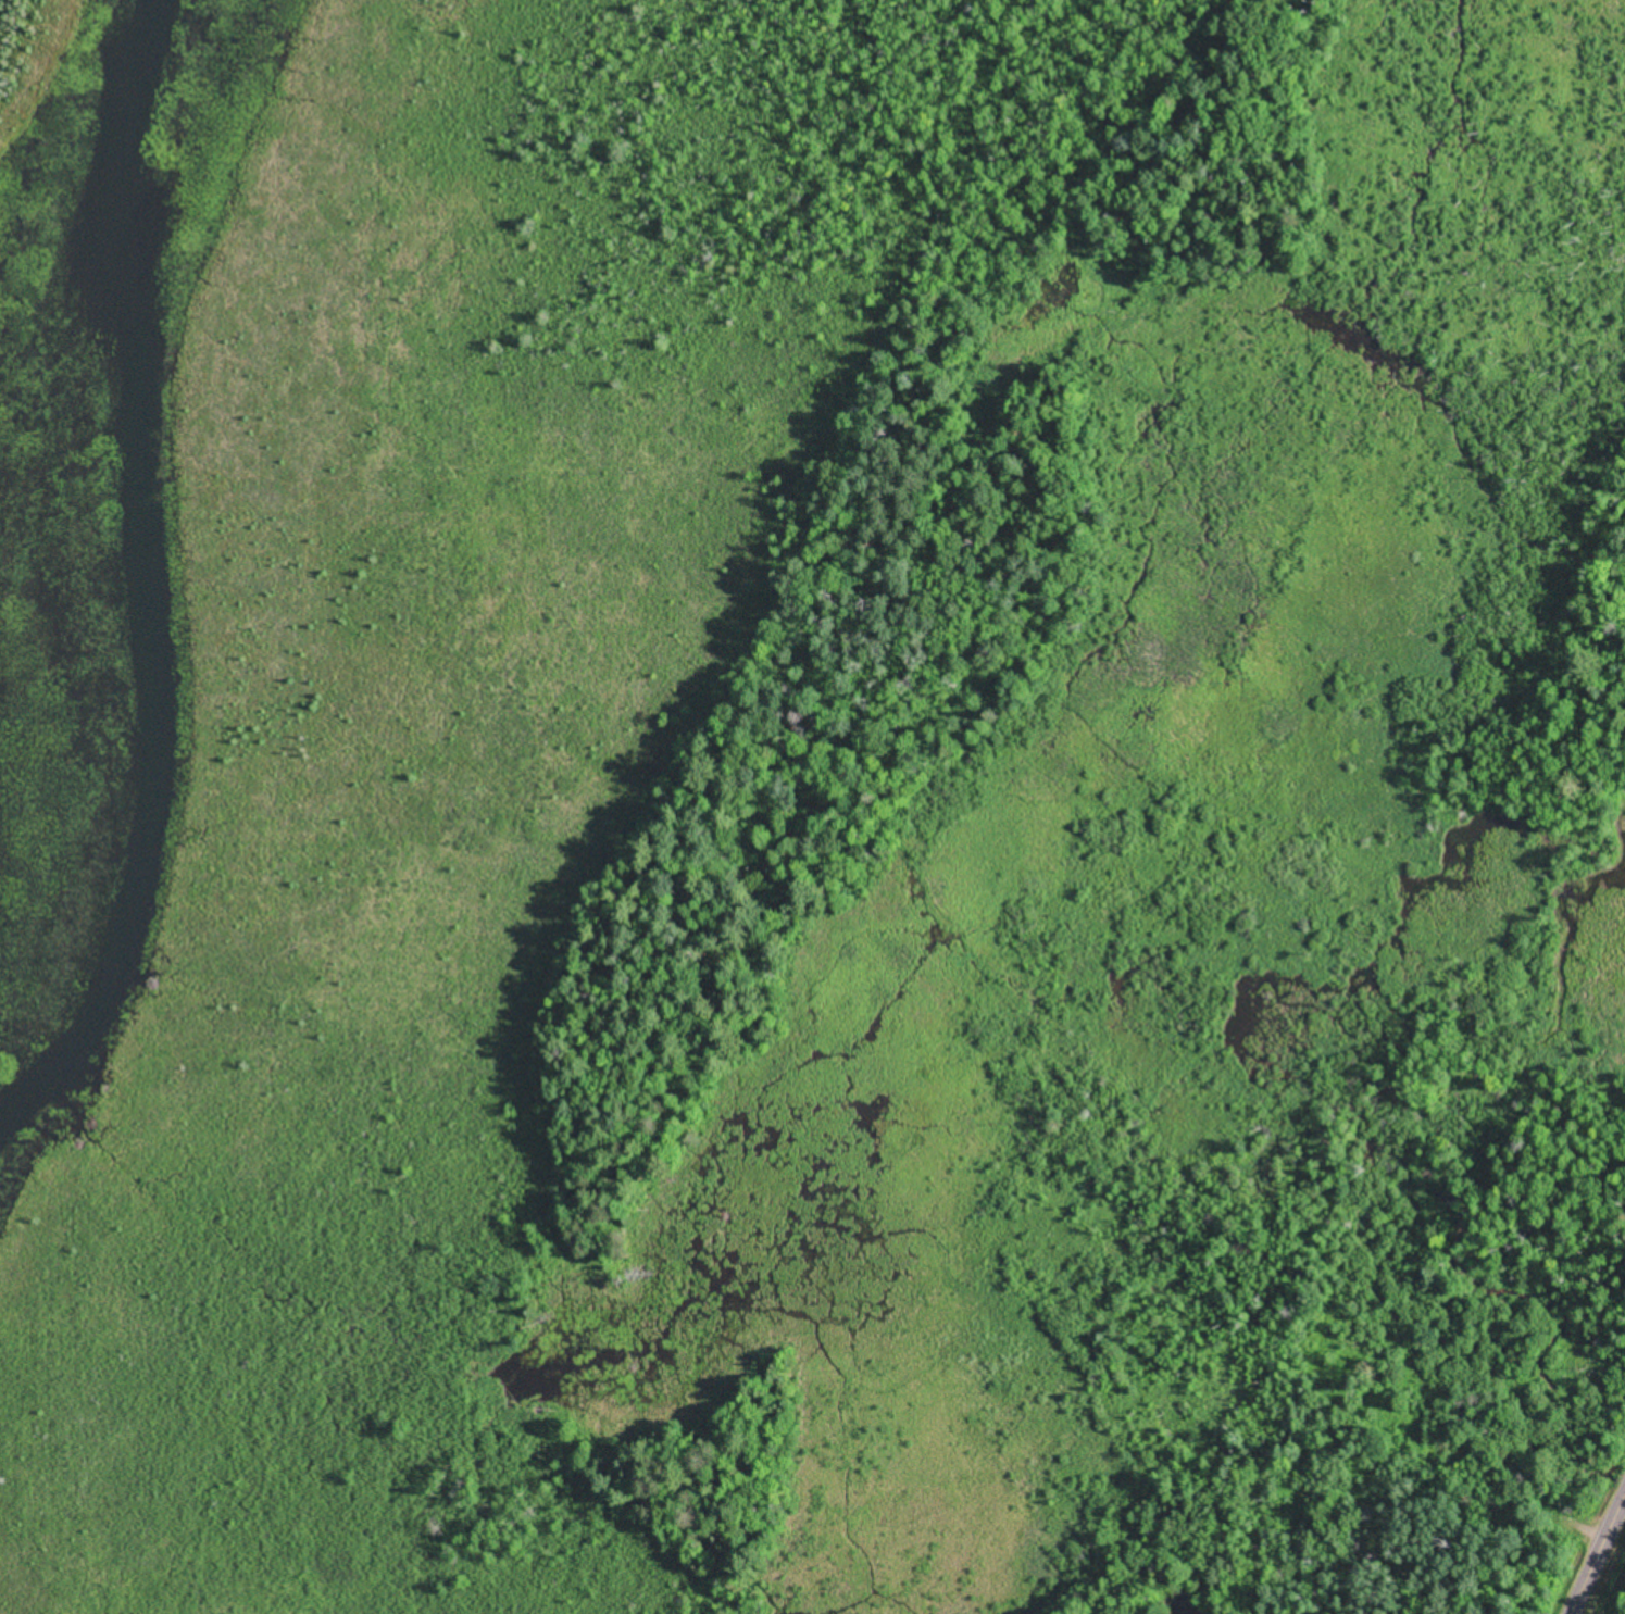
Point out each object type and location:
river: (129, 541)
road: (1599, 1555)

